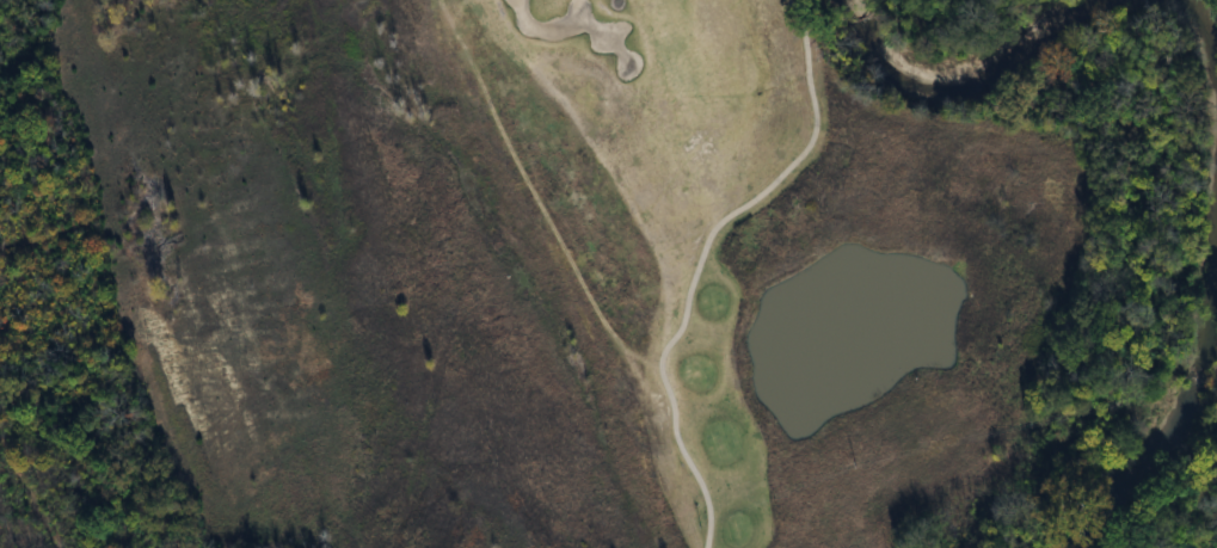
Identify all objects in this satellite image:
road: (703, 258)

